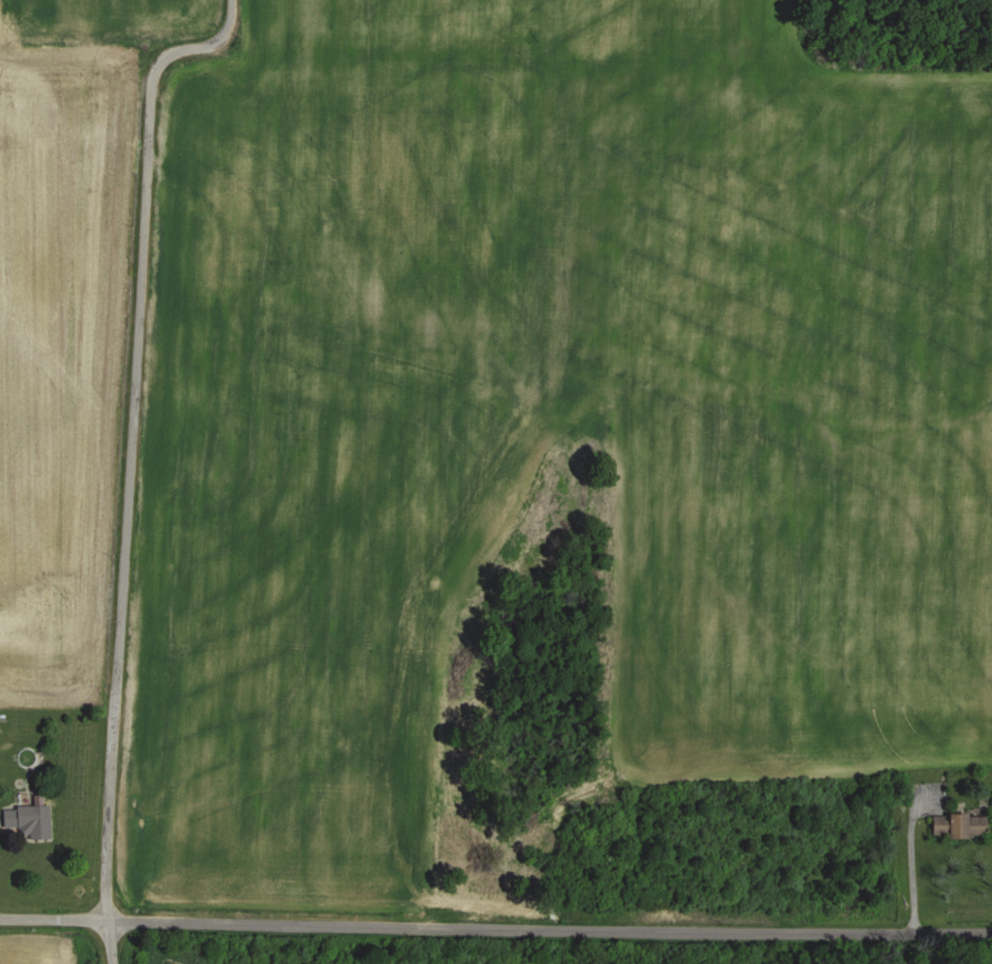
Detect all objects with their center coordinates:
road: (132, 435)
building: (28, 820)
building: (959, 825)
road: (909, 864)
road: (495, 927)
road: (110, 942)

